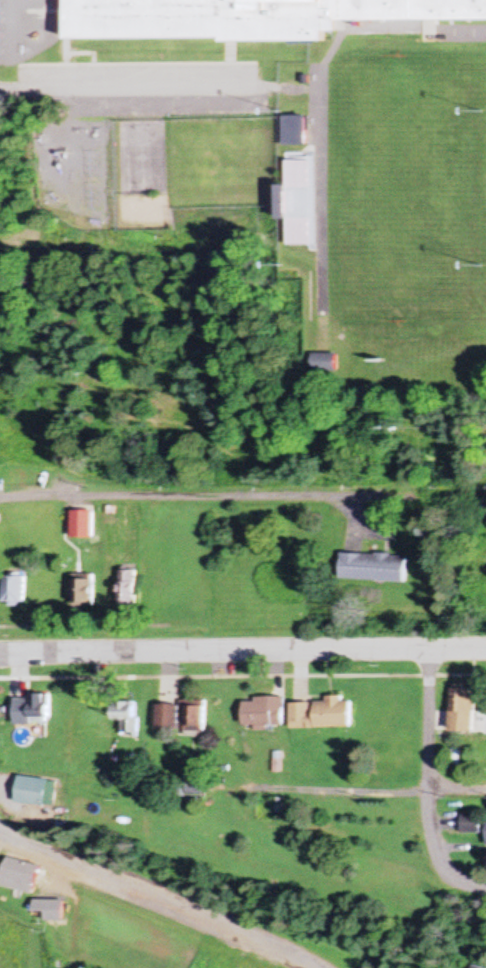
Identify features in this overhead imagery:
building: (248, 18)
building: (293, 131)
park: (143, 159)
park: (395, 188)
building: (297, 204)
road: (183, 497)
building: (81, 525)
building: (374, 568)
building: (126, 589)
building: (13, 591)
building: (82, 593)
road: (242, 651)
building: (39, 708)
building: (463, 709)
building: (265, 712)
building: (323, 714)
building: (126, 717)
building: (166, 717)
building: (194, 718)
road: (429, 763)
building: (193, 788)
building: (33, 792)
building: (472, 822)
building: (17, 876)
road: (467, 880)
road: (157, 886)
building: (477, 966)

